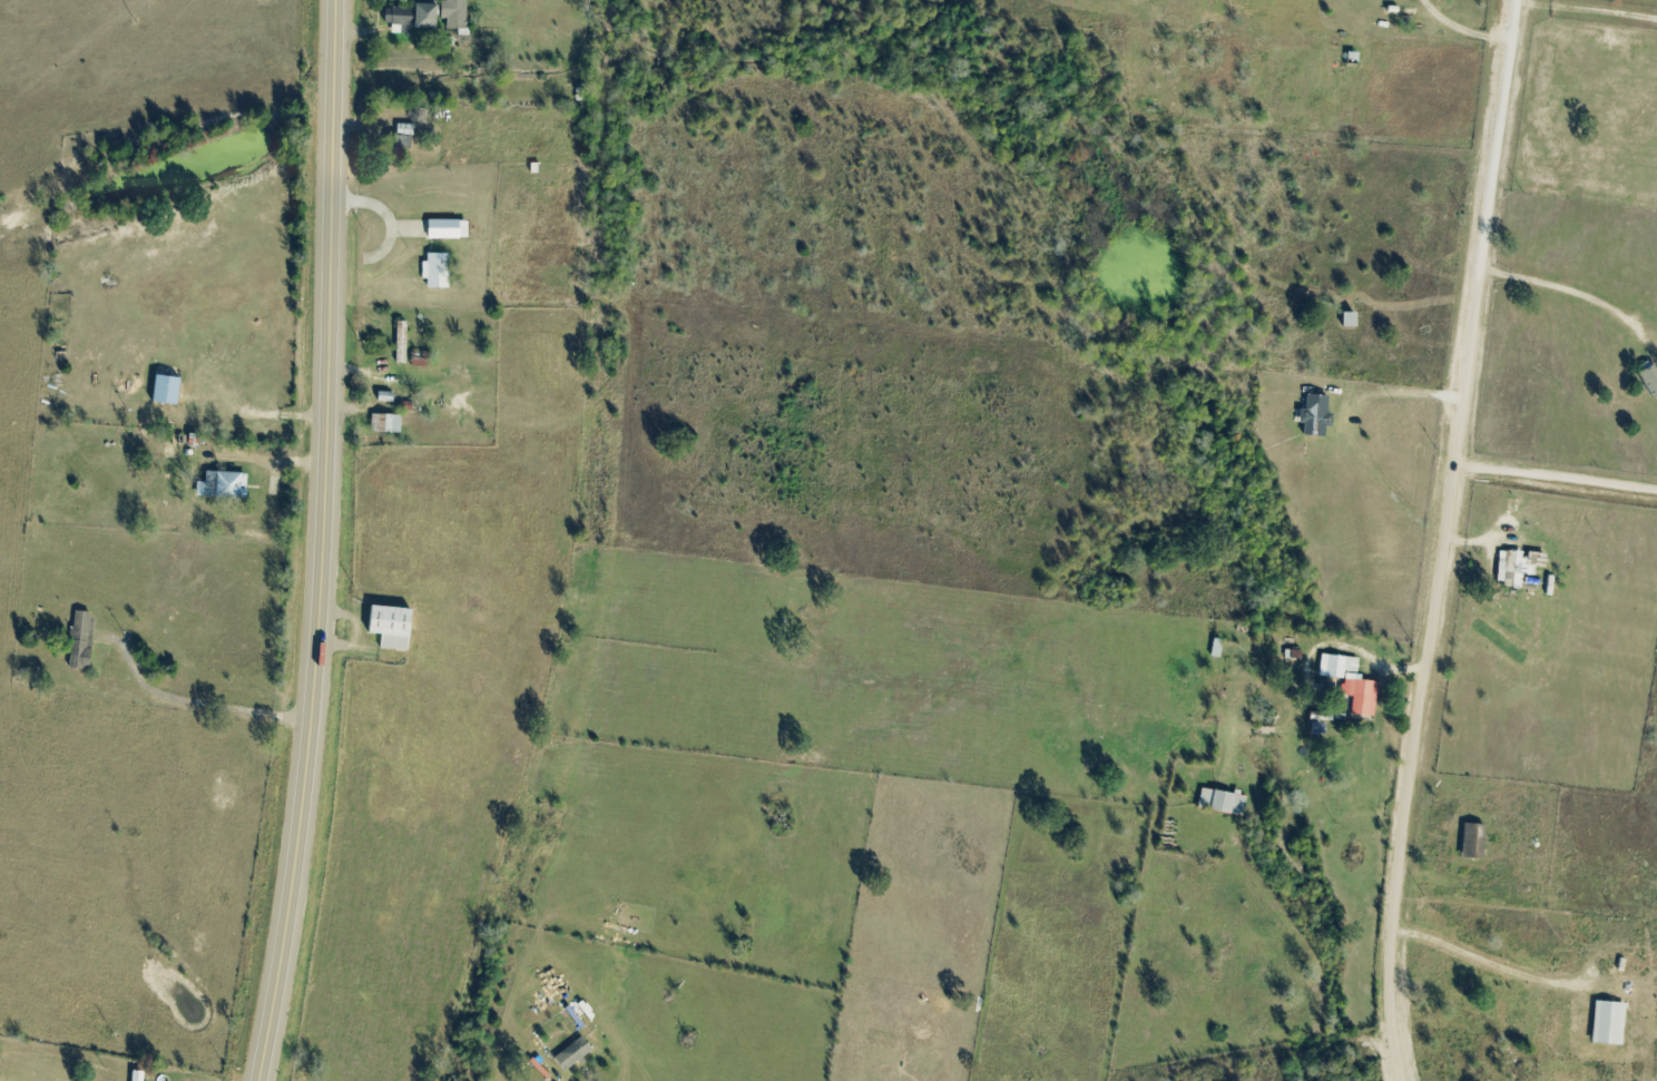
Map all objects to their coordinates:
building: (1350, 61)
building: (450, 230)
building: (439, 272)
building: (423, 361)
building: (1649, 380)
building: (170, 391)
building: (1314, 416)
building: (389, 425)
road: (1555, 483)
road: (1444, 540)
road: (320, 542)
railway: (585, 549)
building: (1539, 572)
building: (395, 628)
building: (85, 641)
building: (1336, 666)
building: (1361, 698)
building: (1220, 802)
building: (1471, 842)
road: (1488, 961)
building: (1606, 1023)
building: (577, 1055)
building: (141, 1077)

